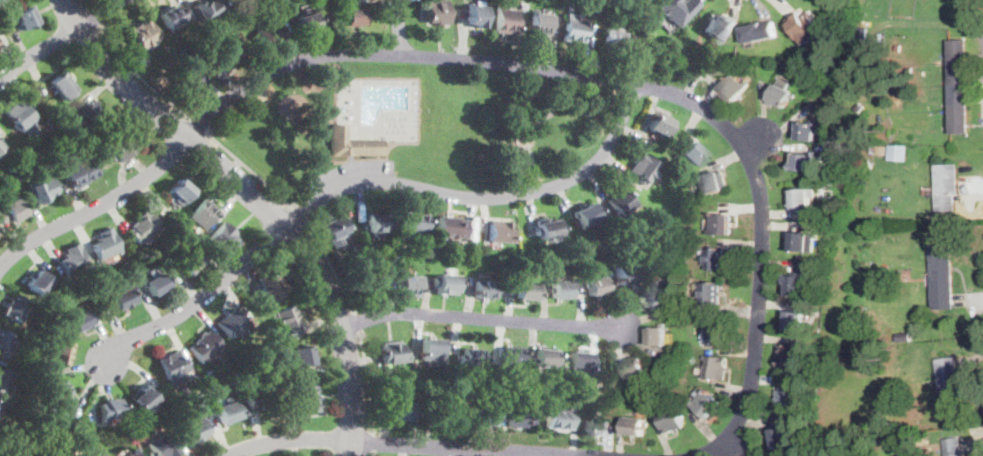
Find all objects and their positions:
road: (84, 4)
building: (206, 8)
building: (676, 9)
building: (437, 12)
building: (476, 14)
road: (100, 15)
building: (172, 15)
building: (354, 16)
building: (26, 18)
road: (95, 18)
building: (307, 20)
building: (506, 20)
building: (542, 23)
building: (271, 26)
building: (804, 26)
road: (398, 27)
building: (573, 28)
building: (720, 28)
building: (759, 32)
building: (143, 35)
building: (270, 35)
building: (613, 39)
building: (231, 50)
road: (38, 53)
road: (141, 79)
building: (189, 82)
road: (639, 85)
building: (63, 87)
building: (957, 87)
building: (733, 88)
building: (781, 94)
building: (859, 106)
building: (89, 113)
building: (21, 116)
road: (199, 123)
building: (658, 123)
road: (525, 129)
building: (808, 130)
building: (521, 140)
building: (351, 143)
building: (120, 146)
building: (0, 147)
building: (897, 151)
building: (690, 153)
building: (85, 155)
building: (805, 162)
road: (247, 168)
building: (643, 168)
building: (80, 173)
building: (713, 181)
building: (945, 187)
building: (42, 191)
building: (179, 192)
road: (481, 197)
road: (258, 199)
building: (799, 200)
building: (620, 202)
road: (98, 206)
building: (11, 211)
building: (585, 213)
building: (202, 214)
road: (298, 215)
building: (413, 222)
building: (375, 223)
building: (144, 225)
building: (720, 225)
building: (335, 227)
building: (450, 227)
building: (548, 229)
building: (500, 231)
building: (223, 237)
building: (798, 241)
building: (106, 242)
building: (73, 258)
building: (396, 259)
building: (714, 259)
building: (190, 261)
road: (330, 266)
building: (625, 273)
building: (941, 277)
building: (40, 281)
building: (155, 281)
building: (270, 284)
building: (446, 284)
building: (369, 285)
building: (595, 285)
building: (793, 285)
building: (409, 286)
building: (484, 289)
building: (560, 289)
building: (525, 291)
building: (710, 293)
building: (654, 296)
building: (122, 297)
road: (200, 300)
building: (12, 307)
road: (481, 318)
building: (286, 319)
building: (794, 320)
building: (80, 321)
building: (232, 321)
road: (357, 323)
building: (716, 332)
building: (657, 336)
building: (904, 336)
building: (5, 342)
building: (207, 346)
building: (431, 351)
building: (61, 352)
building: (392, 352)
building: (302, 356)
building: (512, 356)
building: (472, 357)
building: (544, 357)
building: (789, 357)
building: (578, 362)
building: (172, 364)
building: (828, 365)
building: (635, 367)
building: (716, 367)
building: (6, 379)
road: (368, 382)
building: (948, 383)
building: (60, 395)
building: (259, 396)
building: (143, 397)
building: (384, 397)
building: (306, 398)
building: (785, 400)
building: (705, 404)
building: (111, 410)
building: (400, 410)
building: (226, 411)
building: (445, 412)
building: (485, 415)
building: (520, 417)
building: (557, 418)
building: (672, 420)
building: (634, 426)
building: (595, 427)
building: (194, 431)
building: (779, 436)
building: (872, 439)
road: (371, 443)
road: (399, 443)
building: (162, 446)
building: (921, 448)
building: (953, 448)
building: (10, 451)
building: (101, 453)
building: (135, 453)
road: (372, 454)
building: (42, 455)

